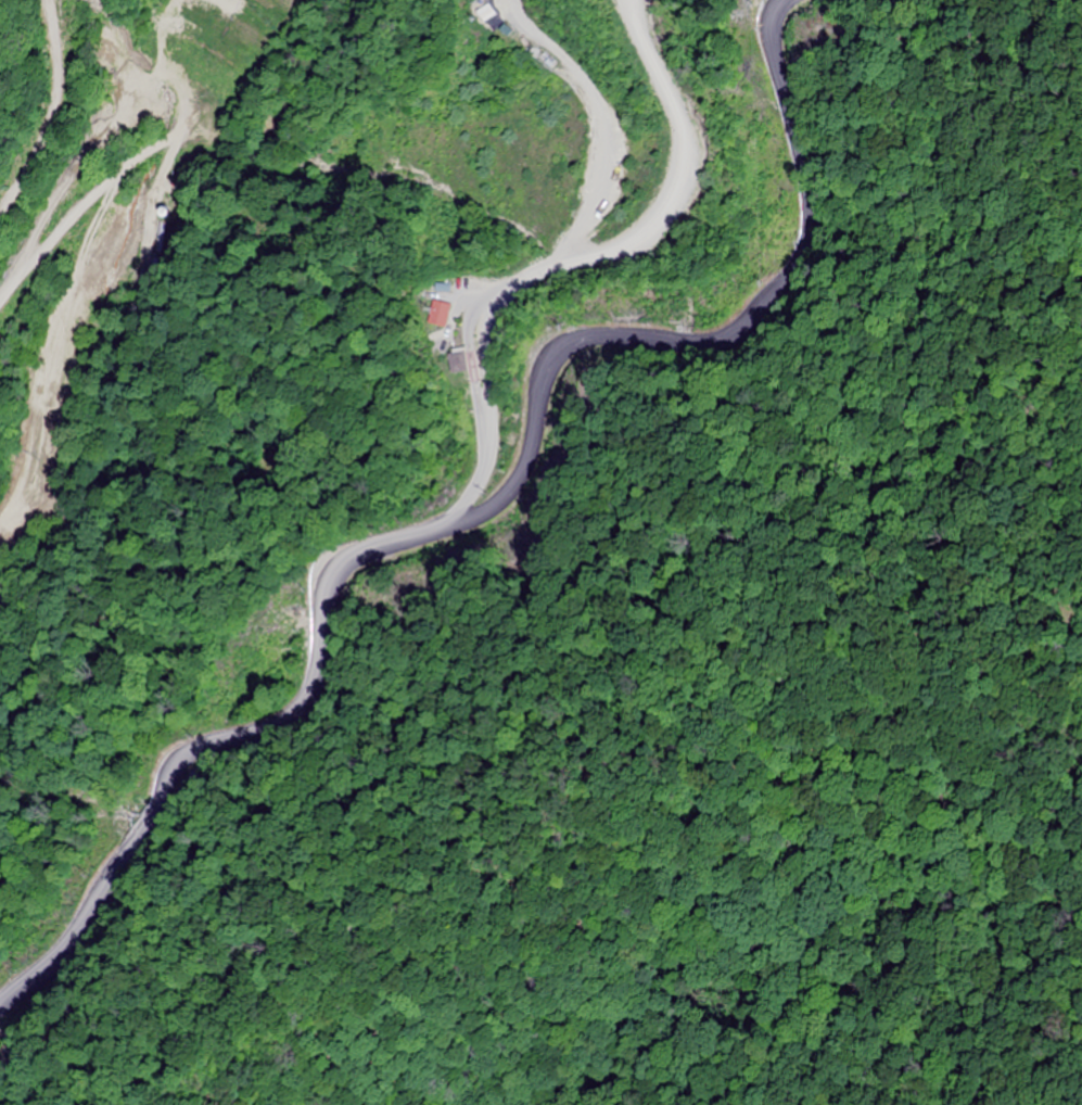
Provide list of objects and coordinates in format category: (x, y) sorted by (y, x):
building: (436, 315)
building: (455, 363)
road: (473, 501)

